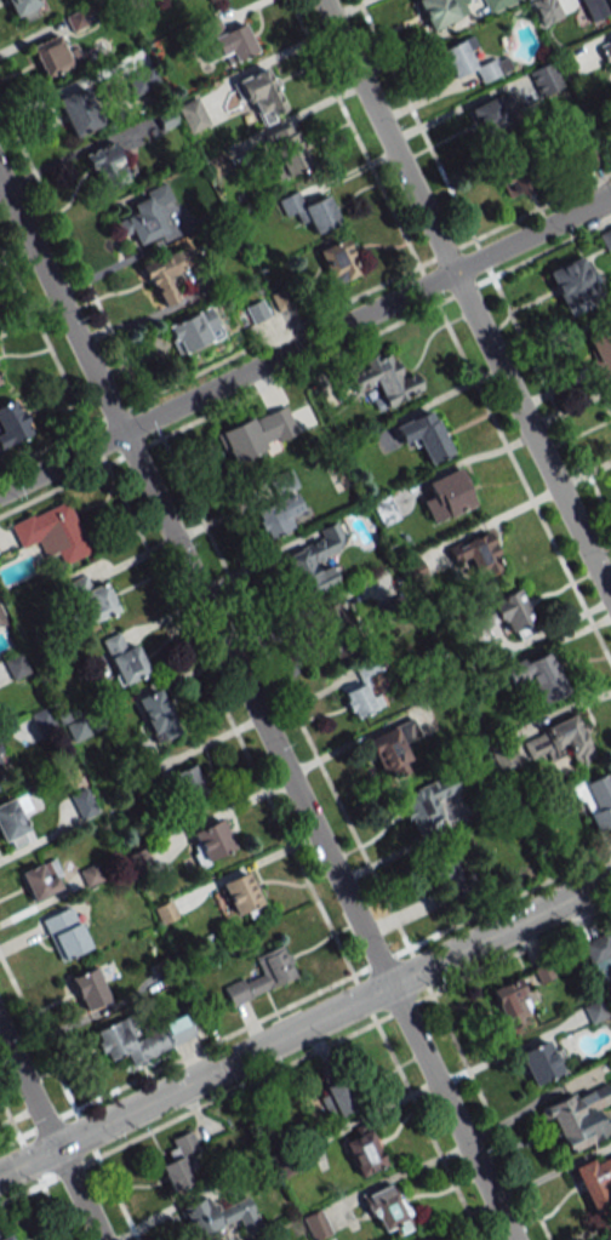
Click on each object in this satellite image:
building: (205, 1)
building: (497, 4)
building: (24, 8)
building: (596, 8)
road: (350, 10)
building: (546, 10)
building: (440, 11)
building: (229, 40)
building: (605, 48)
building: (53, 55)
building: (470, 61)
building: (544, 79)
building: (259, 95)
building: (79, 112)
building: (192, 115)
building: (487, 118)
building: (286, 149)
building: (589, 158)
building: (107, 166)
building: (512, 179)
building: (308, 211)
building: (145, 215)
building: (605, 239)
building: (337, 261)
building: (164, 274)
building: (572, 285)
road: (467, 298)
building: (193, 330)
road: (304, 344)
building: (600, 349)
building: (384, 379)
building: (11, 423)
building: (256, 434)
building: (423, 435)
building: (0, 452)
building: (446, 496)
building: (383, 510)
building: (276, 516)
building: (52, 532)
building: (476, 554)
building: (315, 561)
building: (412, 570)
building: (88, 600)
building: (510, 611)
building: (480, 617)
building: (1, 618)
building: (333, 629)
building: (124, 659)
building: (16, 665)
building: (536, 675)
building: (362, 690)
road: (255, 708)
building: (155, 715)
building: (558, 741)
building: (392, 745)
building: (187, 783)
building: (595, 800)
building: (424, 802)
building: (82, 804)
building: (13, 821)
building: (210, 840)
building: (446, 865)
building: (41, 879)
building: (241, 893)
building: (165, 912)
building: (64, 933)
building: (599, 953)
building: (262, 976)
building: (88, 989)
building: (512, 1001)
road: (332, 1012)
building: (139, 1039)
building: (538, 1062)
building: (336, 1098)
building: (578, 1116)
road: (46, 1121)
road: (50, 1136)
road: (10, 1138)
building: (362, 1153)
road: (28, 1161)
building: (178, 1161)
building: (595, 1182)
road: (21, 1190)
building: (386, 1208)
building: (217, 1217)
building: (315, 1224)
building: (607, 1235)
building: (6, 1238)

